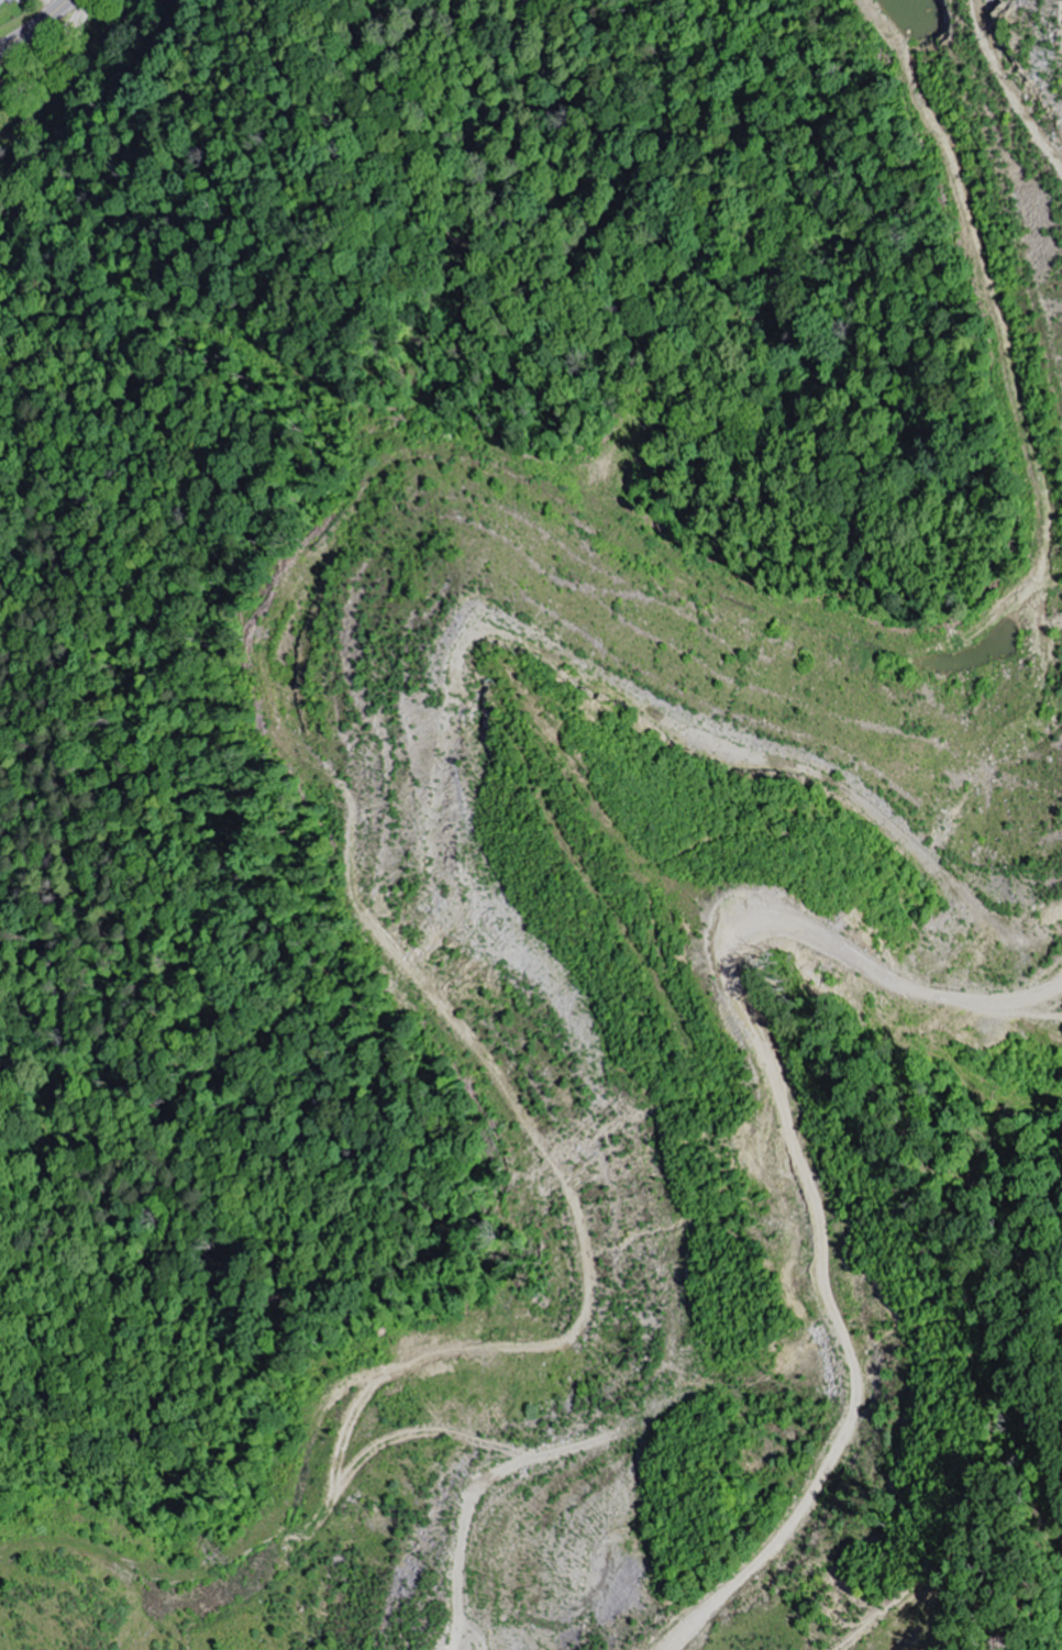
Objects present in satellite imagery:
building: (3, 3)
road: (34, 24)

